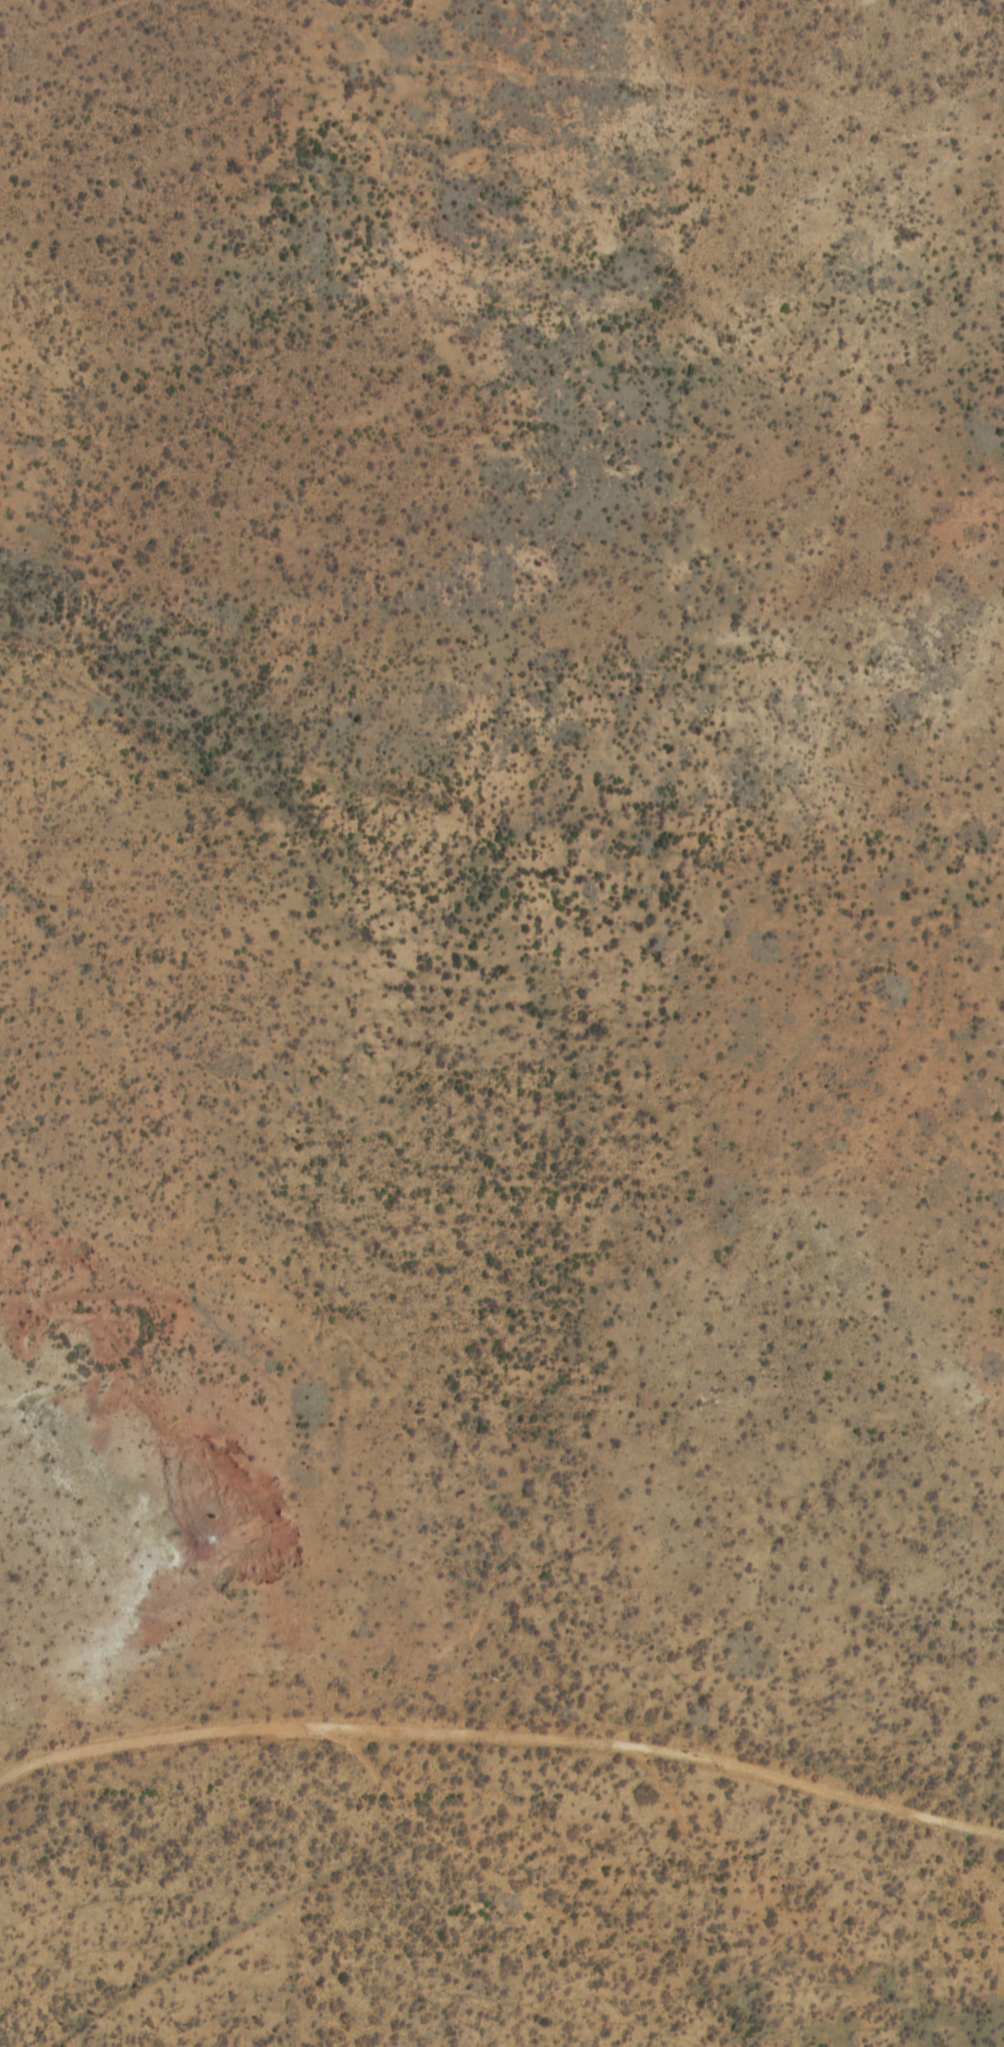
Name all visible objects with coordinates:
road: (501, 1725)

